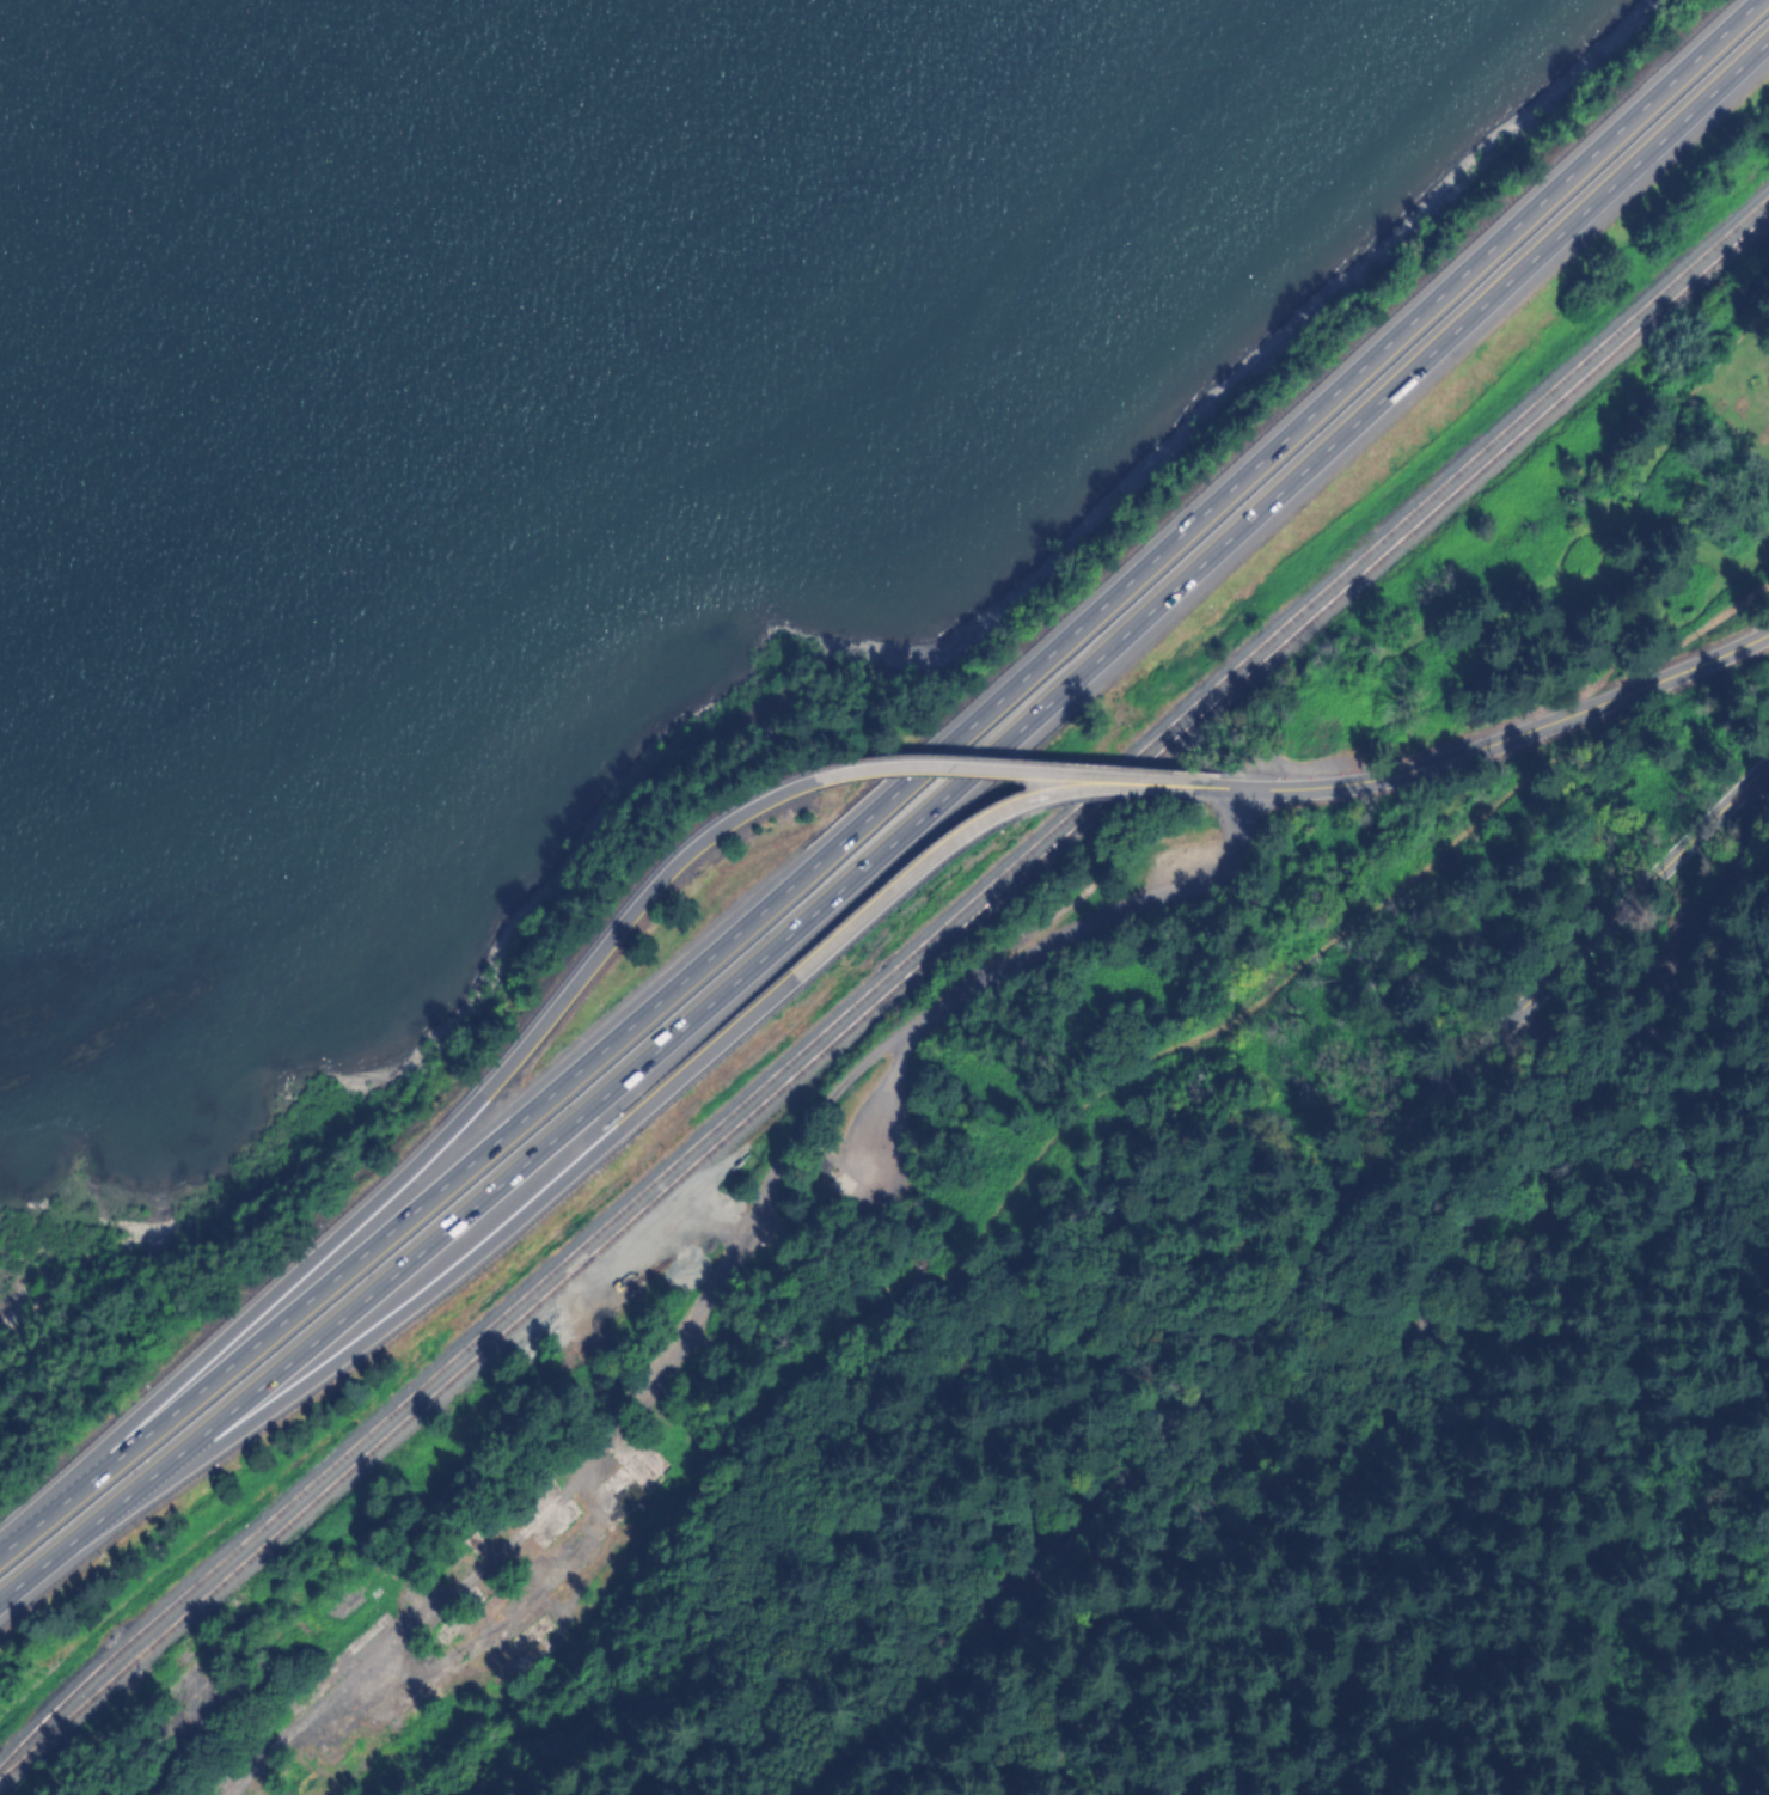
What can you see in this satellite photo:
building: (1314, 734)
road: (1512, 741)
road: (919, 765)
road: (1168, 789)
road: (889, 790)
road: (1224, 793)
road: (939, 800)
road: (898, 892)
road: (1728, 916)
road: (1037, 952)
railway: (882, 981)
parking lot: (1614, 993)
road: (1627, 997)
railway: (882, 1000)
road: (1139, 1075)
road: (1467, 1130)
building: (825, 1167)
road: (779, 1172)
road: (399, 1176)
road: (561, 1232)
road: (1289, 1278)
road: (396, 1301)
road: (1287, 1496)
road: (44, 1559)
road: (564, 1567)
road: (473, 1577)
road: (37, 1783)

